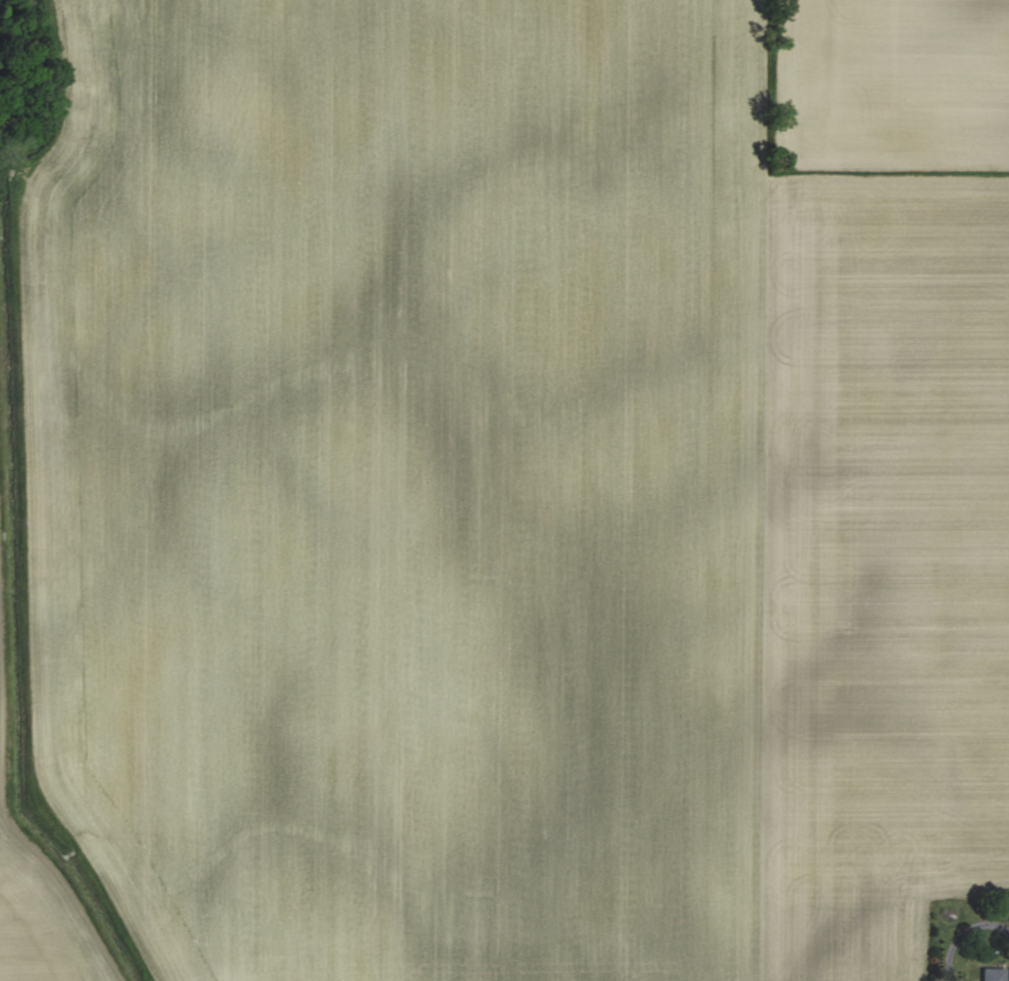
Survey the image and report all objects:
building: (992, 974)

